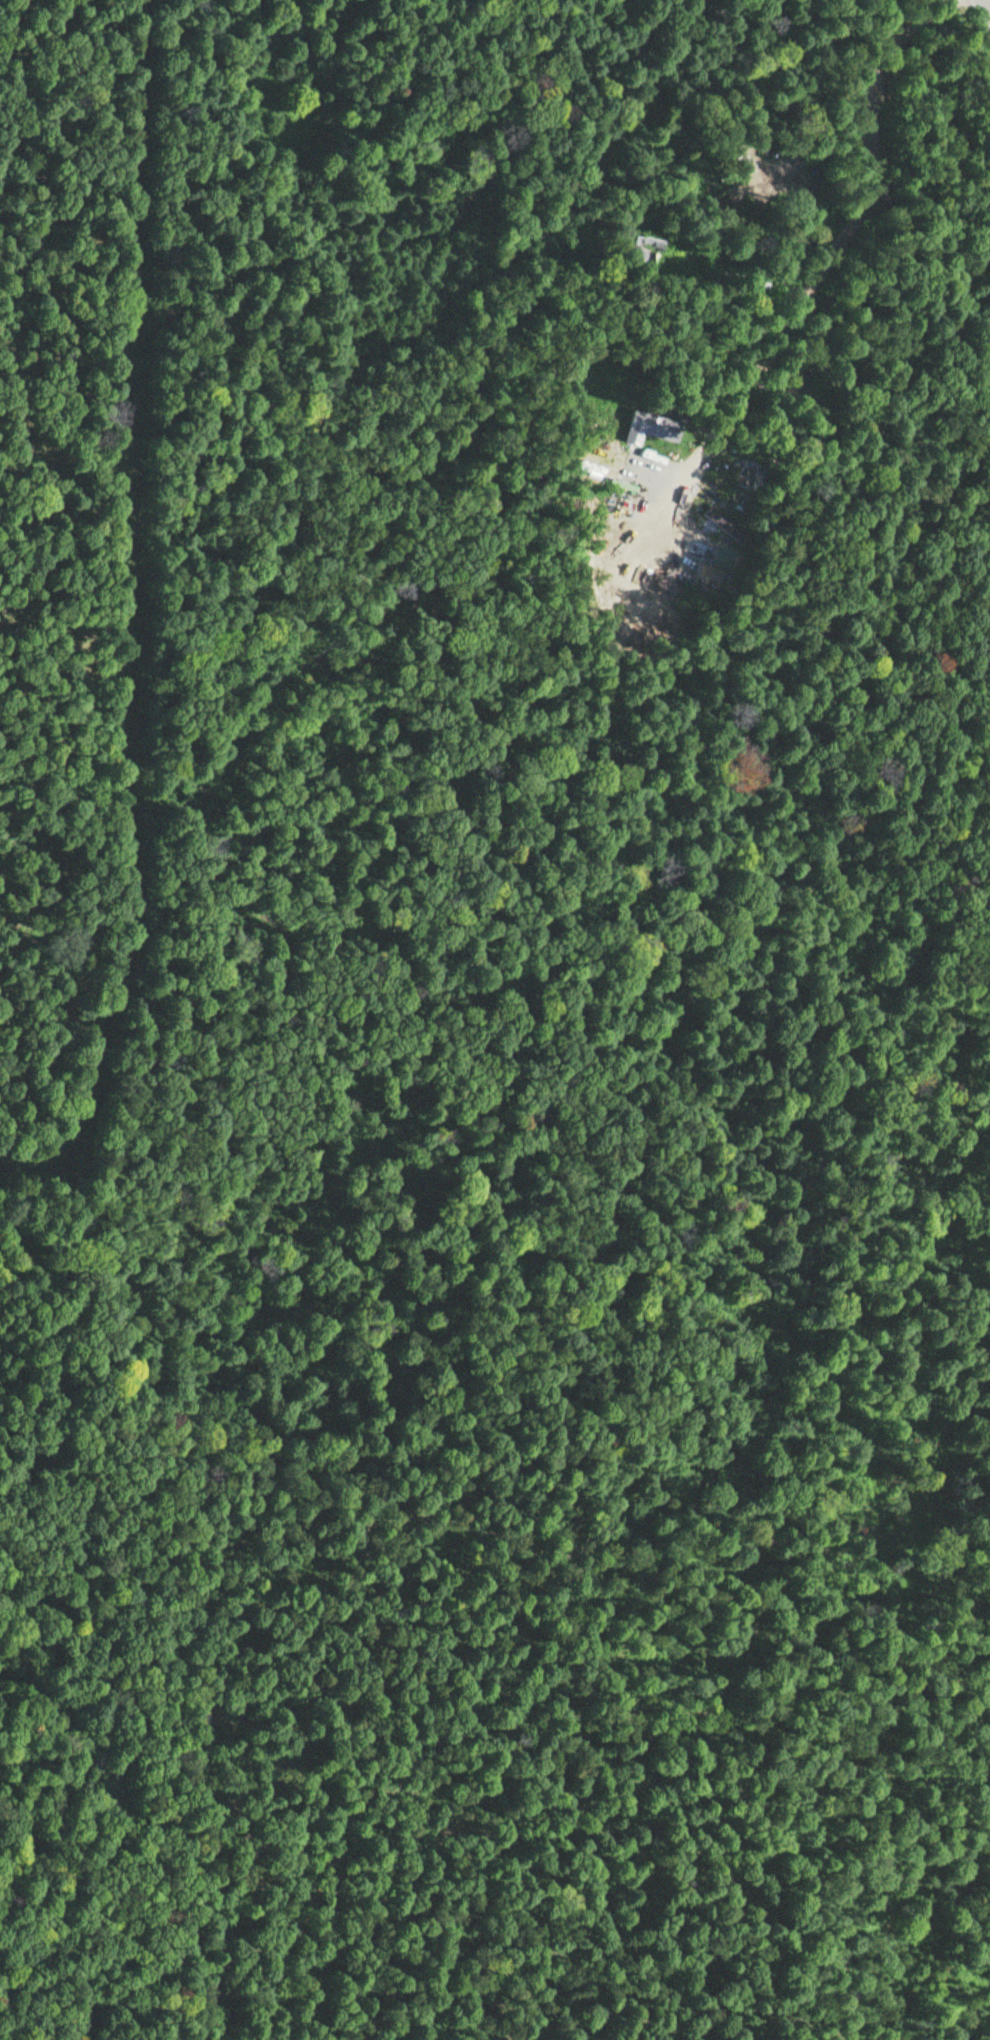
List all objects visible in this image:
road: (986, 8)
road: (816, 239)
building: (647, 246)
building: (648, 427)
building: (750, 475)
building: (728, 525)
building: (723, 557)

